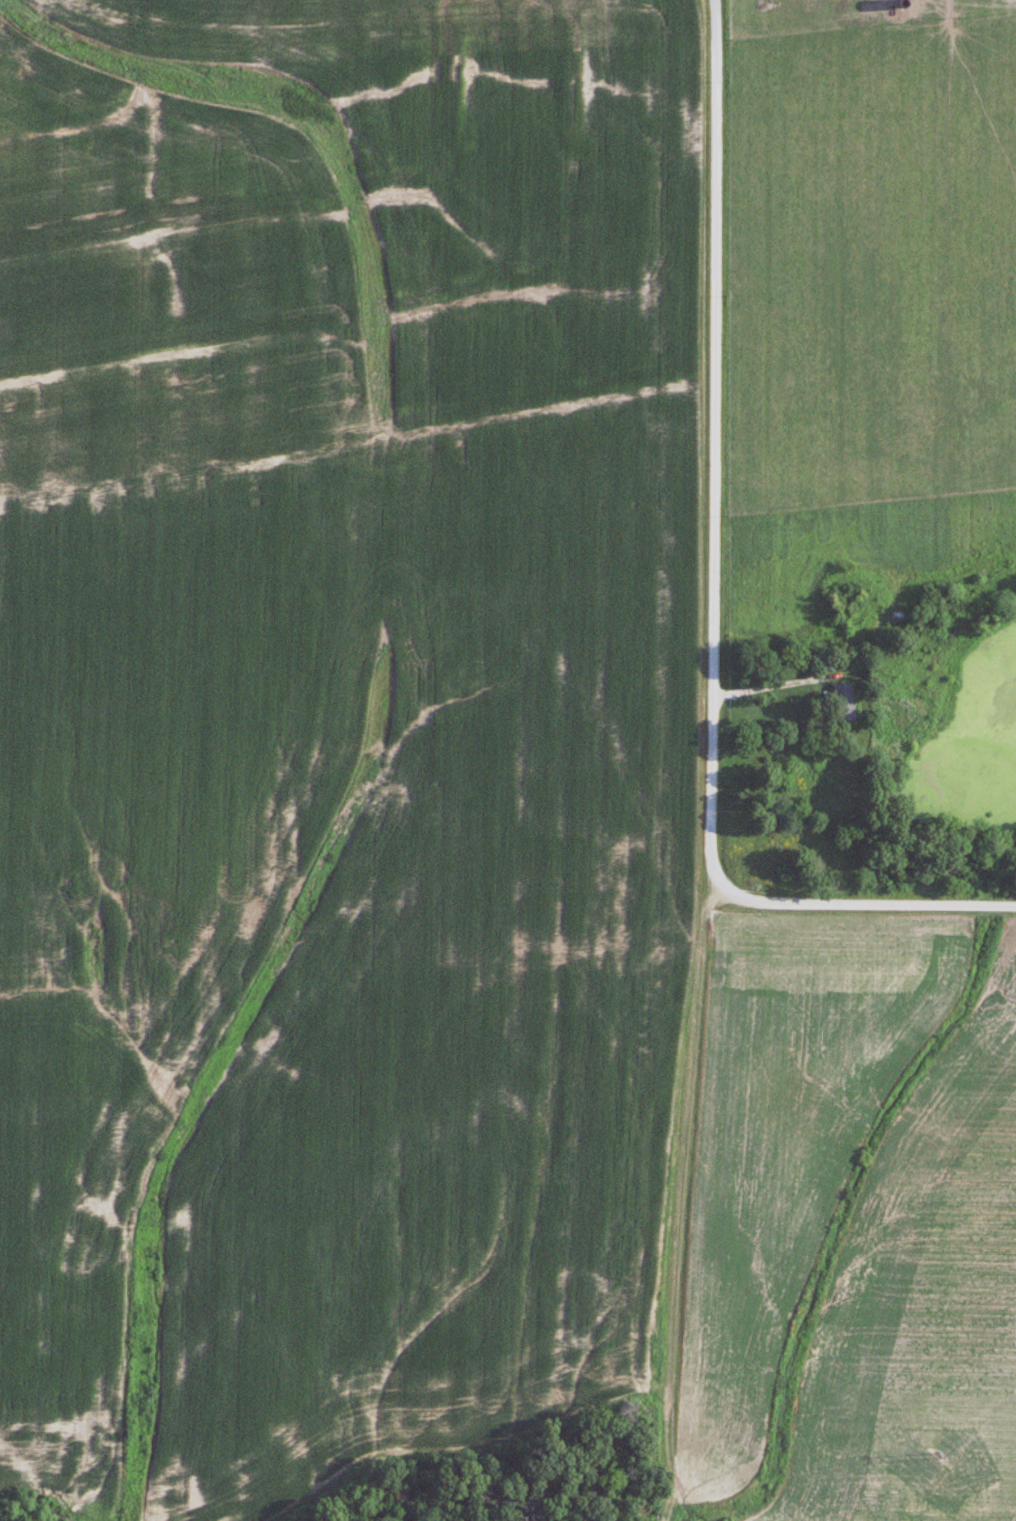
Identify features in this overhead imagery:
road: (714, 594)
road: (781, 685)
building: (844, 702)
road: (682, 1203)

